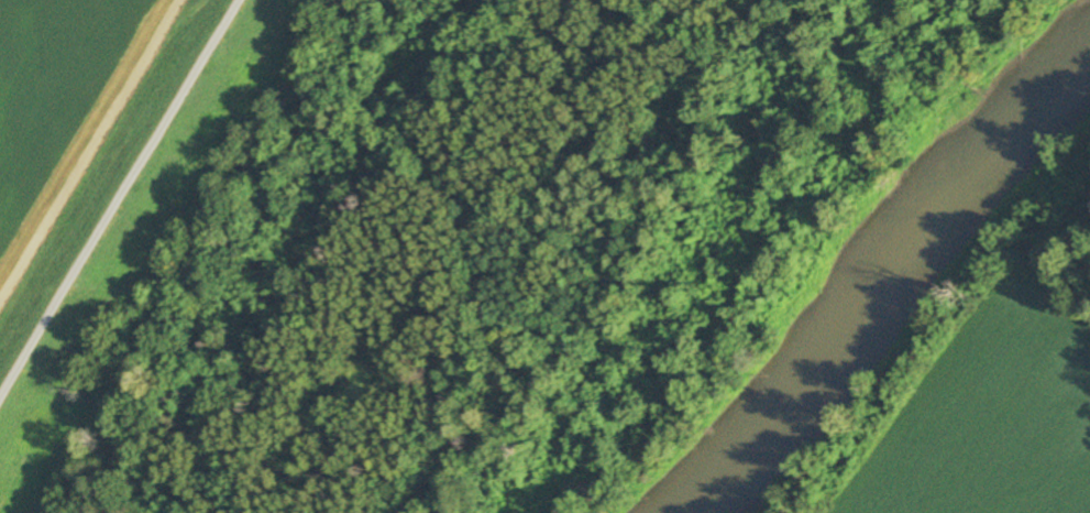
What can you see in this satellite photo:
road: (88, 151)
road: (120, 205)
river: (876, 286)

